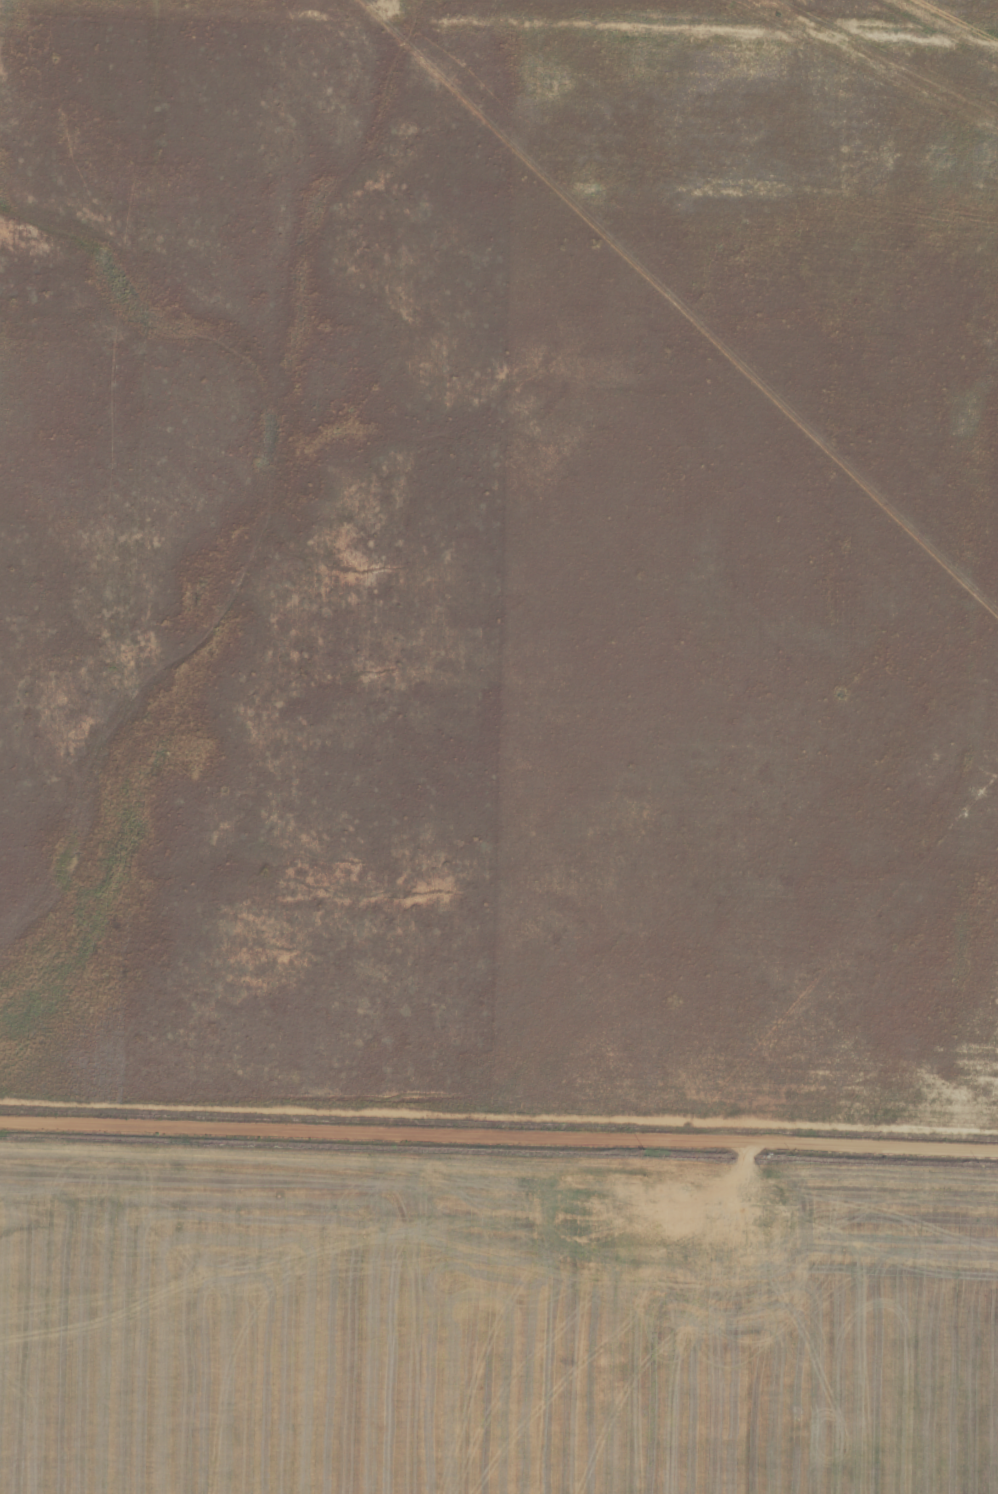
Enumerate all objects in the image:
road: (499, 1132)

